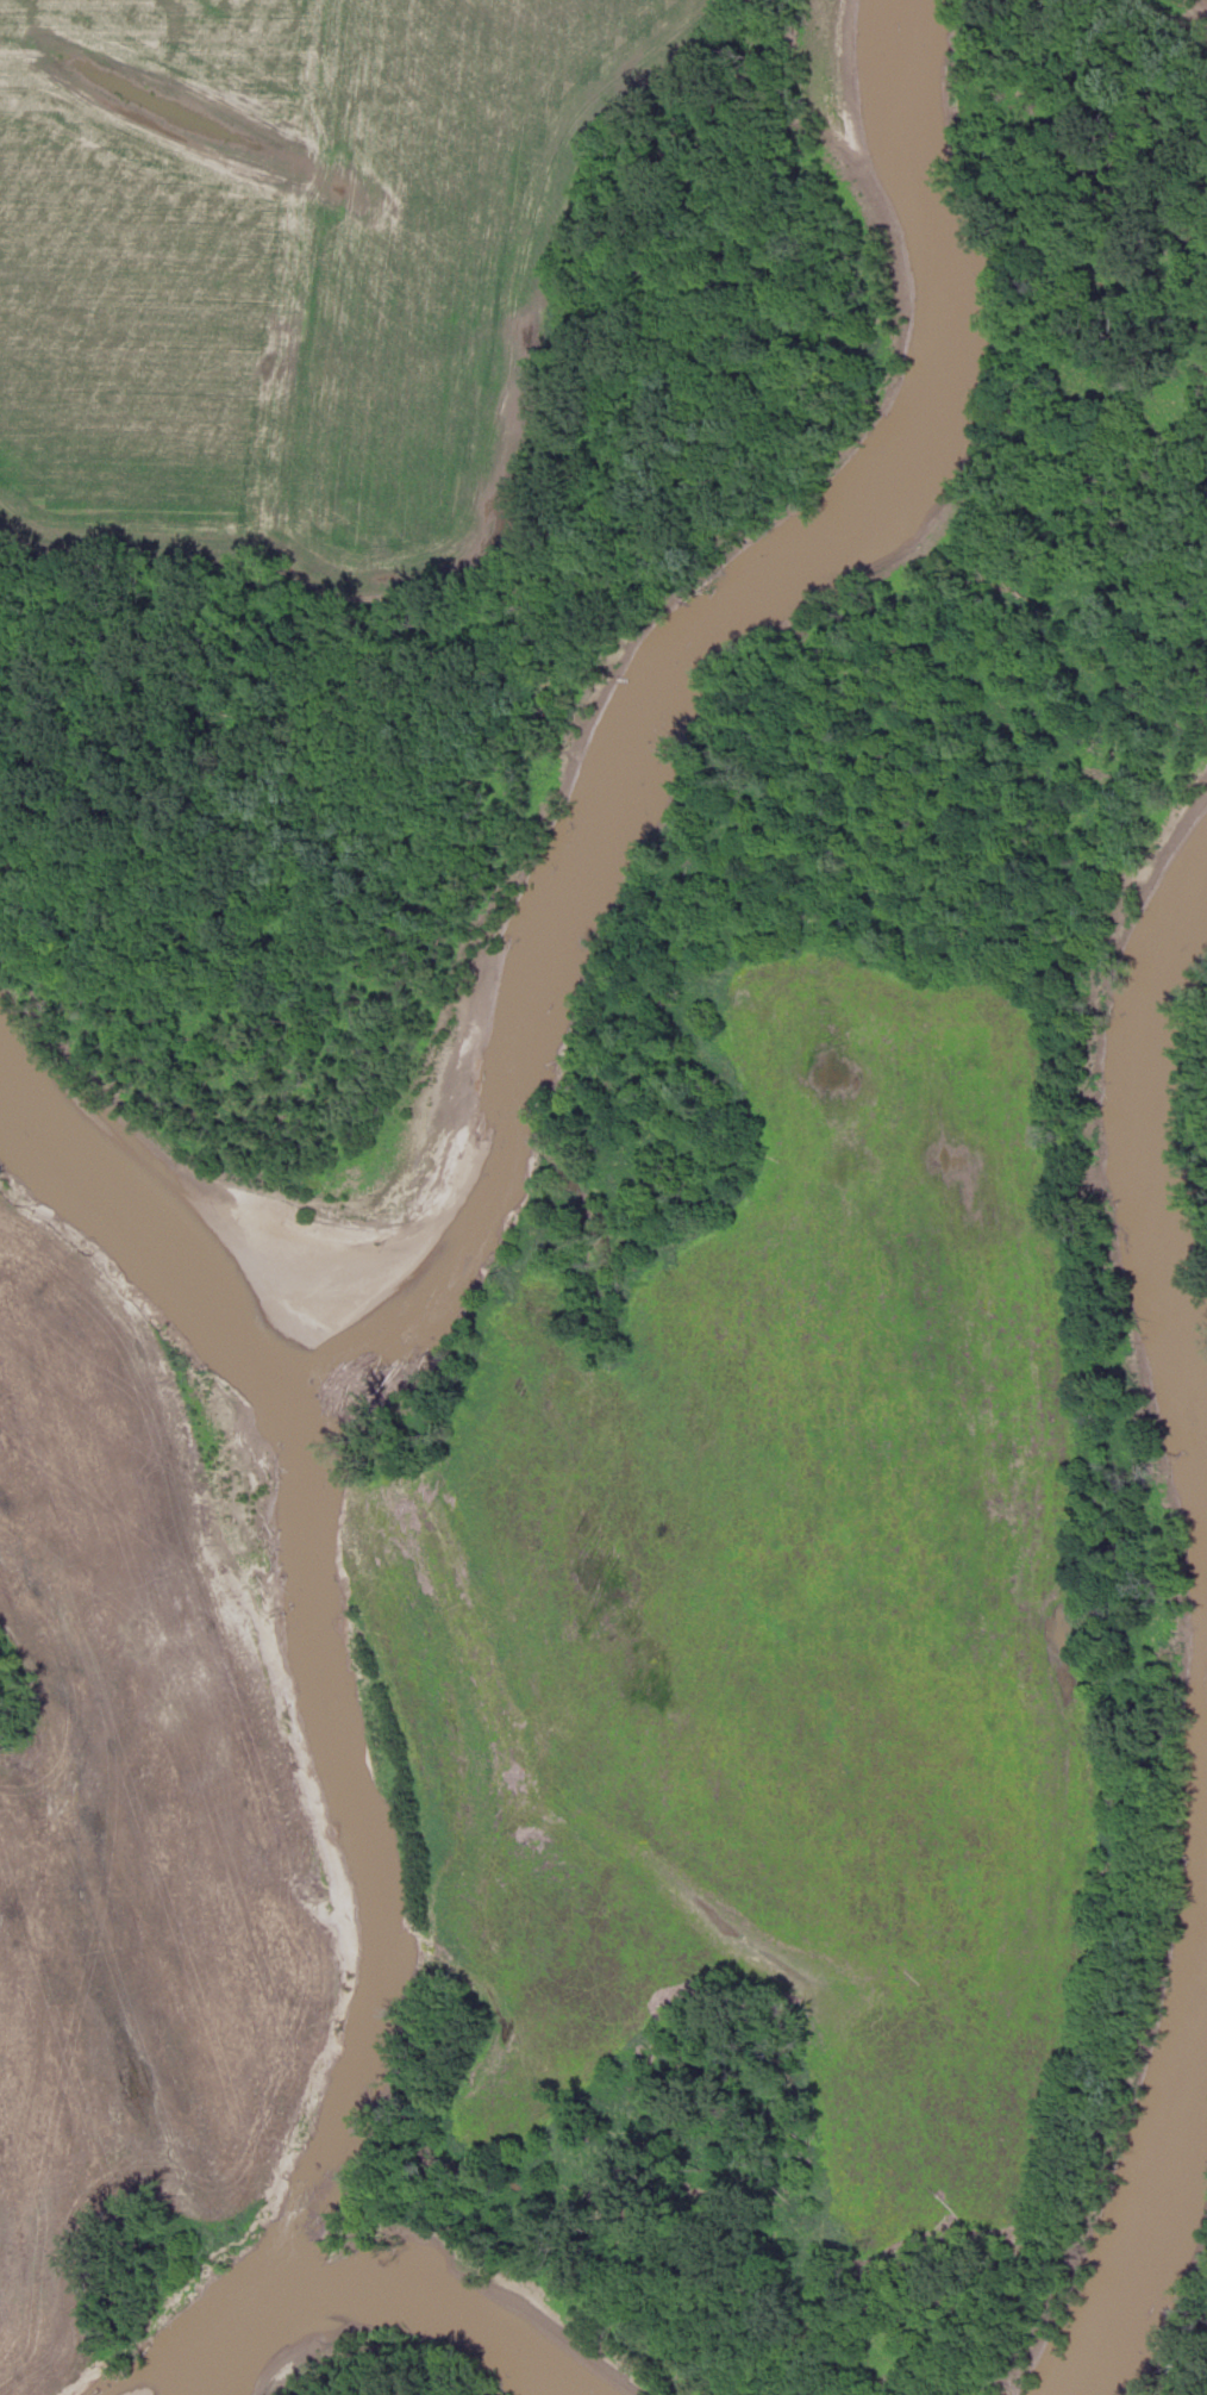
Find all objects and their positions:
river: (594, 786)
river: (1161, 1152)
river: (1163, 2165)
river: (411, 2278)

